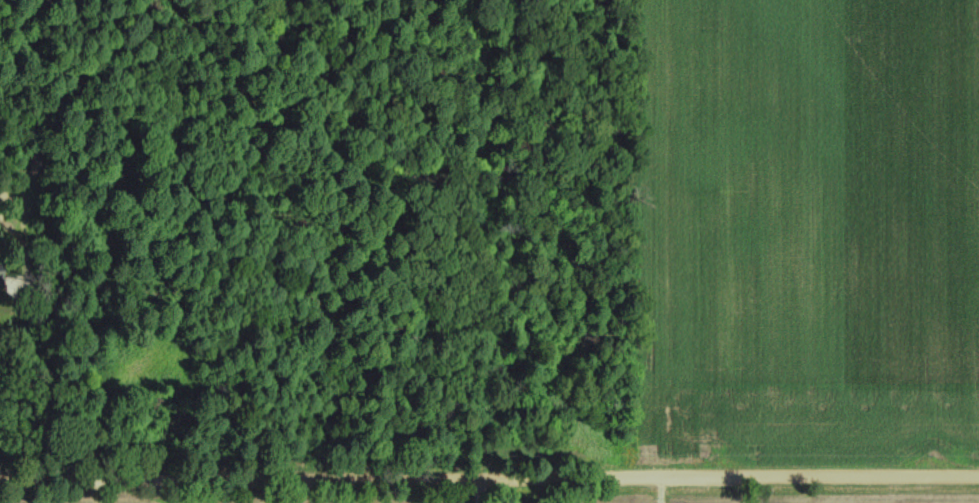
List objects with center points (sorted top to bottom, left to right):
building: (1, 276)
road: (27, 388)
road: (489, 479)
road: (480, 491)

